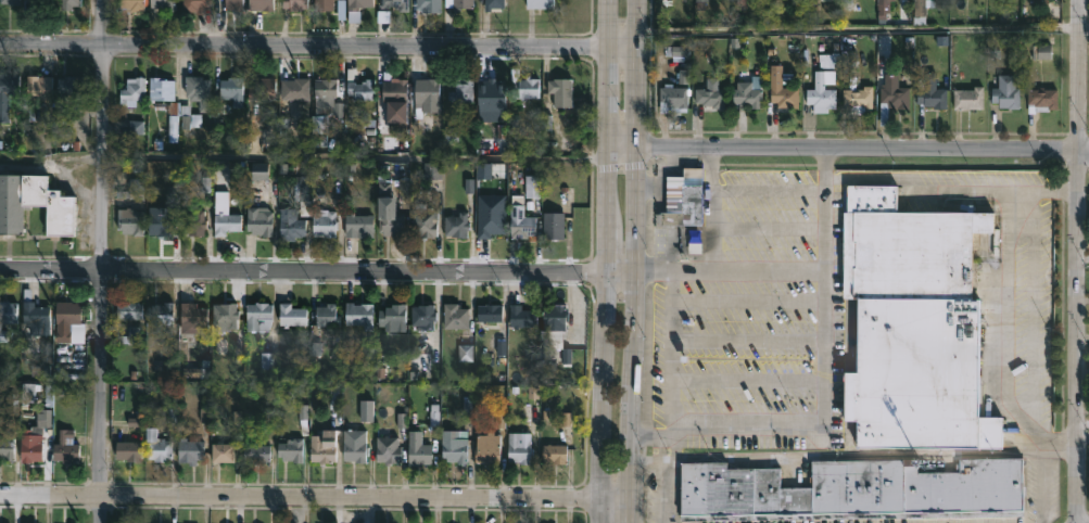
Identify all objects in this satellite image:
building: (699, 0)
building: (10, 1)
building: (41, 3)
building: (459, 3)
building: (493, 3)
building: (540, 3)
building: (68, 4)
building: (132, 4)
building: (163, 4)
building: (194, 4)
building: (262, 4)
building: (295, 4)
building: (324, 4)
building: (359, 4)
building: (396, 4)
building: (429, 4)
building: (849, 4)
building: (884, 4)
building: (233, 5)
building: (928, 5)
road: (862, 38)
road: (317, 44)
building: (73, 84)
building: (524, 85)
building: (360, 86)
building: (39, 87)
building: (294, 88)
building: (783, 88)
building: (162, 89)
building: (232, 89)
building: (261, 89)
building: (490, 89)
building: (198, 90)
building: (461, 90)
building: (823, 90)
building: (134, 91)
building: (328, 91)
building: (427, 91)
building: (561, 91)
building: (930, 91)
building: (1005, 91)
building: (394, 92)
building: (749, 92)
building: (8, 97)
building: (674, 97)
building: (710, 98)
building: (859, 98)
building: (892, 98)
building: (970, 98)
building: (1043, 100)
building: (173, 120)
building: (262, 136)
road: (849, 148)
road: (304, 164)
building: (693, 177)
building: (134, 188)
road: (925, 190)
road: (767, 192)
building: (303, 194)
building: (674, 194)
building: (15, 206)
road: (712, 207)
building: (687, 208)
building: (425, 220)
building: (130, 221)
building: (259, 221)
building: (197, 222)
building: (226, 224)
building: (328, 224)
building: (393, 224)
building: (521, 224)
building: (290, 225)
building: (553, 225)
building: (358, 226)
building: (457, 226)
building: (490, 226)
building: (163, 227)
building: (906, 248)
road: (606, 260)
road: (633, 260)
road: (102, 261)
road: (1078, 261)
road: (1084, 263)
road: (789, 270)
road: (316, 271)
building: (129, 309)
building: (8, 311)
building: (161, 311)
building: (490, 311)
road: (1030, 311)
building: (327, 314)
building: (359, 314)
building: (35, 315)
building: (225, 315)
building: (258, 315)
building: (291, 315)
building: (423, 315)
building: (192, 316)
building: (394, 316)
building: (456, 316)
building: (523, 316)
building: (69, 322)
building: (556, 328)
building: (2, 334)
road: (670, 348)
building: (917, 374)
road: (1082, 422)
road: (797, 424)
building: (34, 438)
building: (156, 444)
building: (324, 445)
building: (355, 445)
building: (7, 446)
building: (66, 446)
building: (487, 447)
building: (519, 447)
building: (389, 448)
building: (128, 449)
building: (190, 449)
building: (291, 449)
building: (456, 450)
building: (223, 451)
building: (257, 452)
building: (556, 452)
building: (420, 454)
building: (852, 489)
road: (314, 497)

